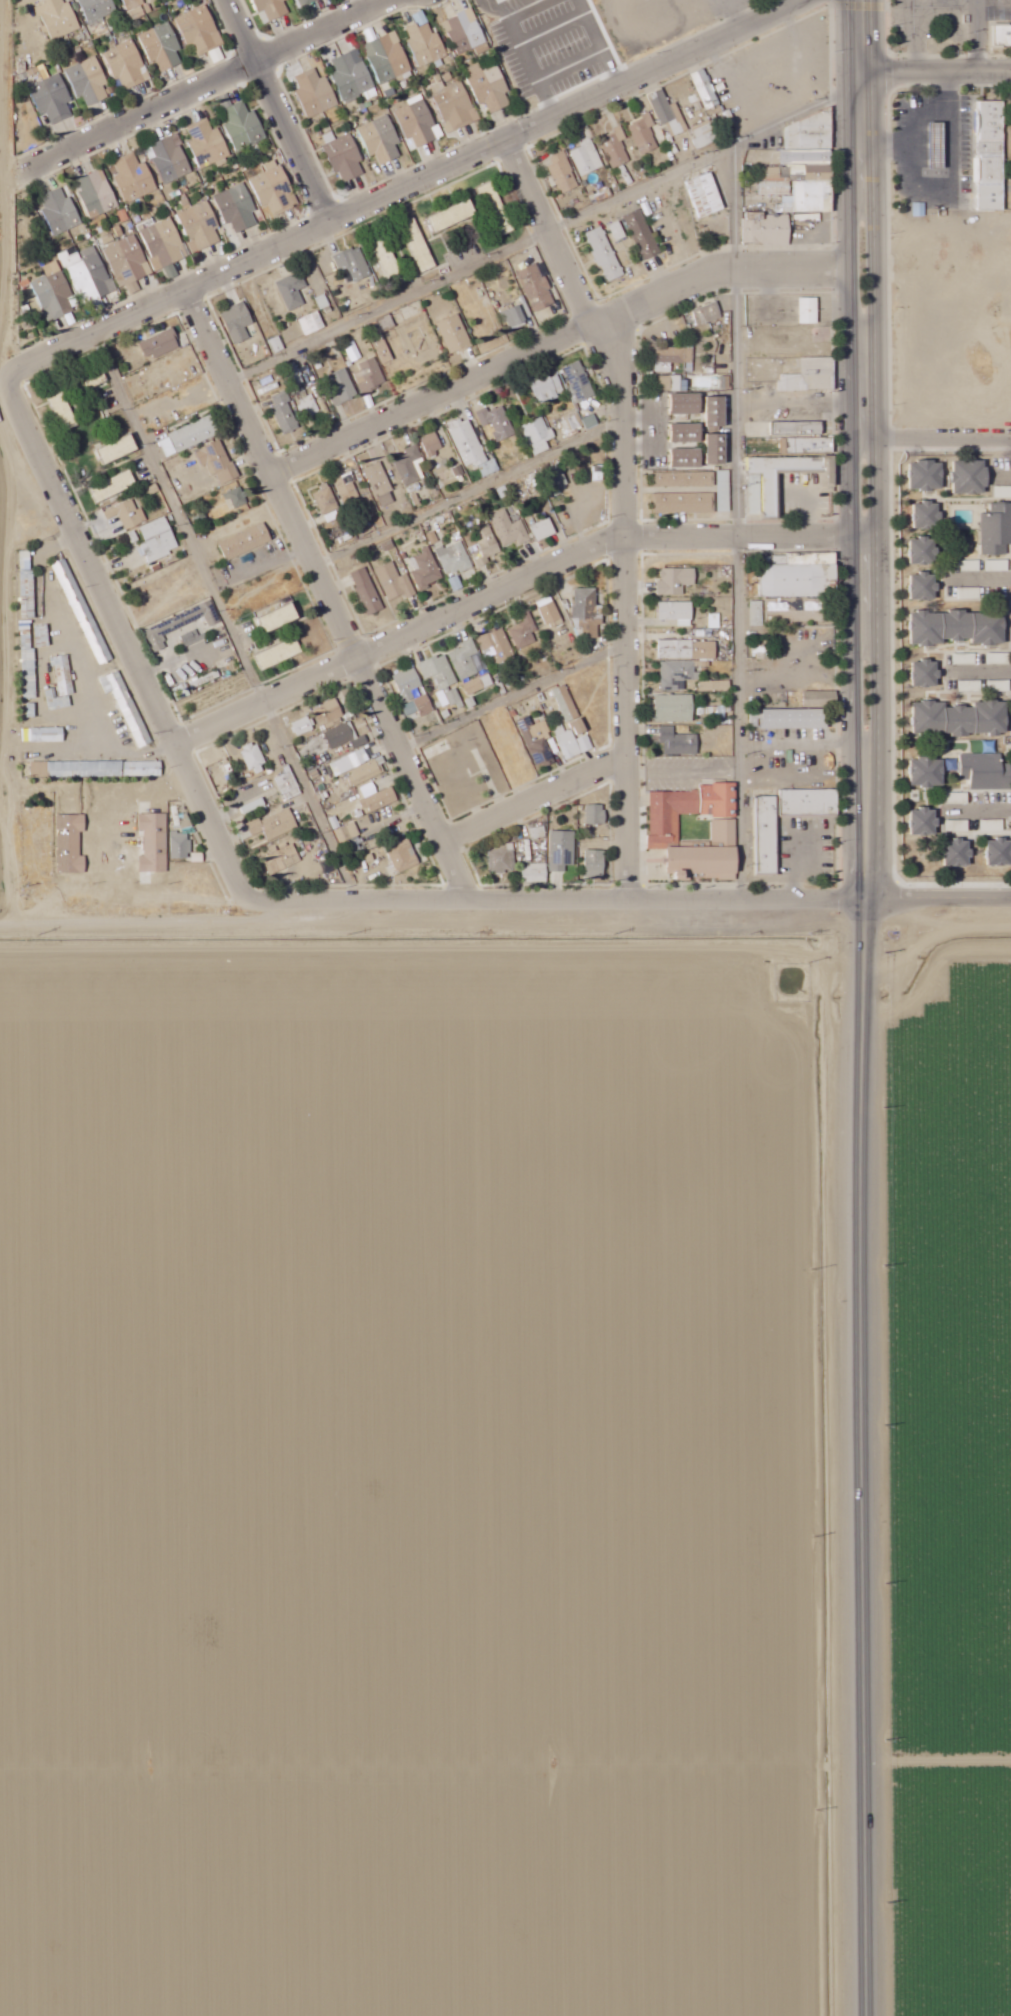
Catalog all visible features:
building: (305, 2)
road: (918, 7)
building: (138, 8)
building: (98, 9)
building: (271, 9)
building: (58, 18)
road: (2, 20)
road: (554, 29)
building: (200, 30)
building: (465, 31)
building: (1003, 35)
road: (978, 36)
building: (425, 41)
road: (603, 43)
building: (162, 46)
road: (523, 53)
building: (387, 57)
building: (127, 64)
road: (571, 65)
road: (928, 73)
building: (352, 75)
building: (88, 81)
building: (489, 86)
building: (706, 89)
road: (195, 92)
building: (315, 93)
building: (52, 98)
building: (452, 101)
road: (281, 112)
building: (666, 112)
road: (3, 116)
building: (418, 121)
building: (241, 124)
building: (644, 135)
building: (704, 135)
building: (381, 139)
building: (208, 144)
building: (616, 147)
building: (992, 156)
building: (345, 157)
building: (587, 158)
building: (169, 160)
building: (809, 165)
building: (563, 173)
building: (134, 178)
building: (775, 181)
crop: (7, 183)
building: (274, 189)
road: (408, 189)
building: (97, 194)
building: (706, 196)
building: (237, 207)
building: (497, 209)
building: (920, 209)
building: (60, 211)
building: (454, 216)
building: (200, 226)
building: (617, 231)
building: (642, 235)
building: (163, 244)
building: (419, 245)
building: (605, 255)
building: (127, 260)
building: (387, 260)
building: (354, 264)
building: (88, 272)
road: (10, 287)
building: (536, 287)
building: (293, 290)
building: (809, 311)
building: (707, 314)
building: (517, 316)
building: (238, 322)
building: (312, 323)
building: (455, 334)
road: (556, 342)
building: (160, 344)
building: (277, 345)
building: (672, 358)
building: (293, 374)
road: (871, 374)
road: (850, 375)
building: (811, 376)
building: (369, 377)
building: (89, 381)
building: (578, 382)
building: (671, 382)
building: (342, 387)
building: (548, 388)
building: (687, 404)
building: (308, 405)
building: (62, 409)
building: (717, 412)
building: (285, 413)
building: (497, 422)
building: (590, 422)
building: (571, 426)
building: (687, 434)
building: (538, 436)
road: (931, 436)
building: (188, 437)
building: (802, 438)
building: (432, 444)
building: (470, 446)
building: (717, 449)
building: (119, 450)
building: (687, 459)
building: (218, 462)
building: (409, 466)
building: (927, 476)
building: (971, 478)
building: (684, 479)
building: (554, 480)
building: (380, 484)
building: (114, 487)
building: (347, 489)
building: (1002, 492)
road: (466, 495)
building: (236, 498)
building: (326, 499)
building: (685, 503)
building: (771, 503)
building: (753, 504)
road: (618, 513)
building: (128, 515)
building: (927, 516)
building: (509, 529)
building: (543, 530)
building: (996, 530)
building: (158, 540)
building: (487, 541)
building: (245, 542)
building: (923, 551)
building: (454, 558)
building: (426, 570)
building: (799, 576)
building: (676, 581)
building: (395, 583)
building: (27, 584)
road: (505, 587)
building: (924, 587)
building: (367, 591)
building: (965, 594)
road: (332, 602)
building: (82, 612)
building: (550, 613)
building: (677, 613)
building: (587, 614)
building: (757, 614)
building: (280, 619)
building: (182, 629)
building: (957, 629)
building: (525, 632)
building: (497, 643)
building: (687, 650)
building: (761, 651)
building: (280, 654)
building: (465, 660)
road: (127, 664)
road: (103, 669)
building: (439, 672)
building: (677, 674)
building: (926, 674)
building: (29, 675)
building: (408, 684)
building: (61, 685)
building: (715, 686)
crop: (9, 694)
building: (444, 698)
building: (820, 699)
building: (127, 707)
building: (417, 708)
building: (675, 708)
building: (961, 719)
building: (795, 720)
building: (304, 726)
building: (571, 726)
building: (44, 735)
building: (537, 740)
building: (678, 742)
building: (516, 753)
building: (254, 758)
building: (357, 768)
building: (96, 769)
building: (986, 772)
building: (928, 773)
building: (288, 784)
building: (380, 801)
road: (535, 801)
building: (253, 807)
building: (688, 810)
building: (595, 815)
building: (925, 823)
building: (274, 825)
building: (957, 826)
building: (724, 833)
building: (351, 837)
building: (154, 843)
building: (180, 845)
building: (767, 845)
building: (562, 851)
building: (999, 853)
building: (959, 854)
building: (403, 857)
building: (501, 858)
building: (281, 859)
building: (704, 864)
building: (594, 866)
building: (535, 873)
road: (502, 908)
crop: (951, 1365)
road: (868, 1380)
crop: (417, 1478)
crop: (956, 1896)

